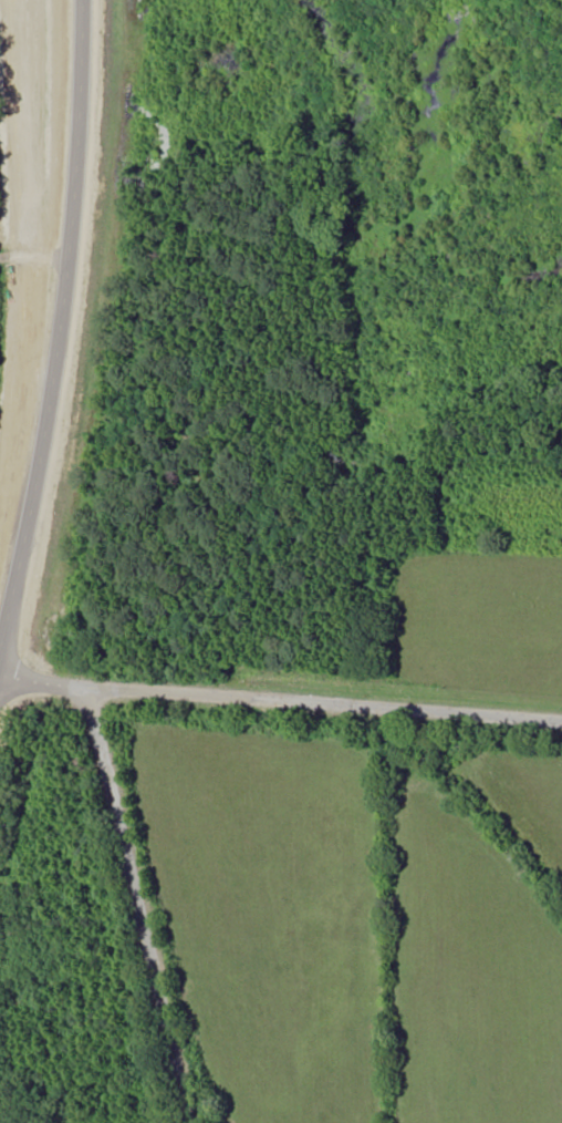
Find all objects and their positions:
road: (27, 351)
road: (281, 710)
road: (143, 909)

